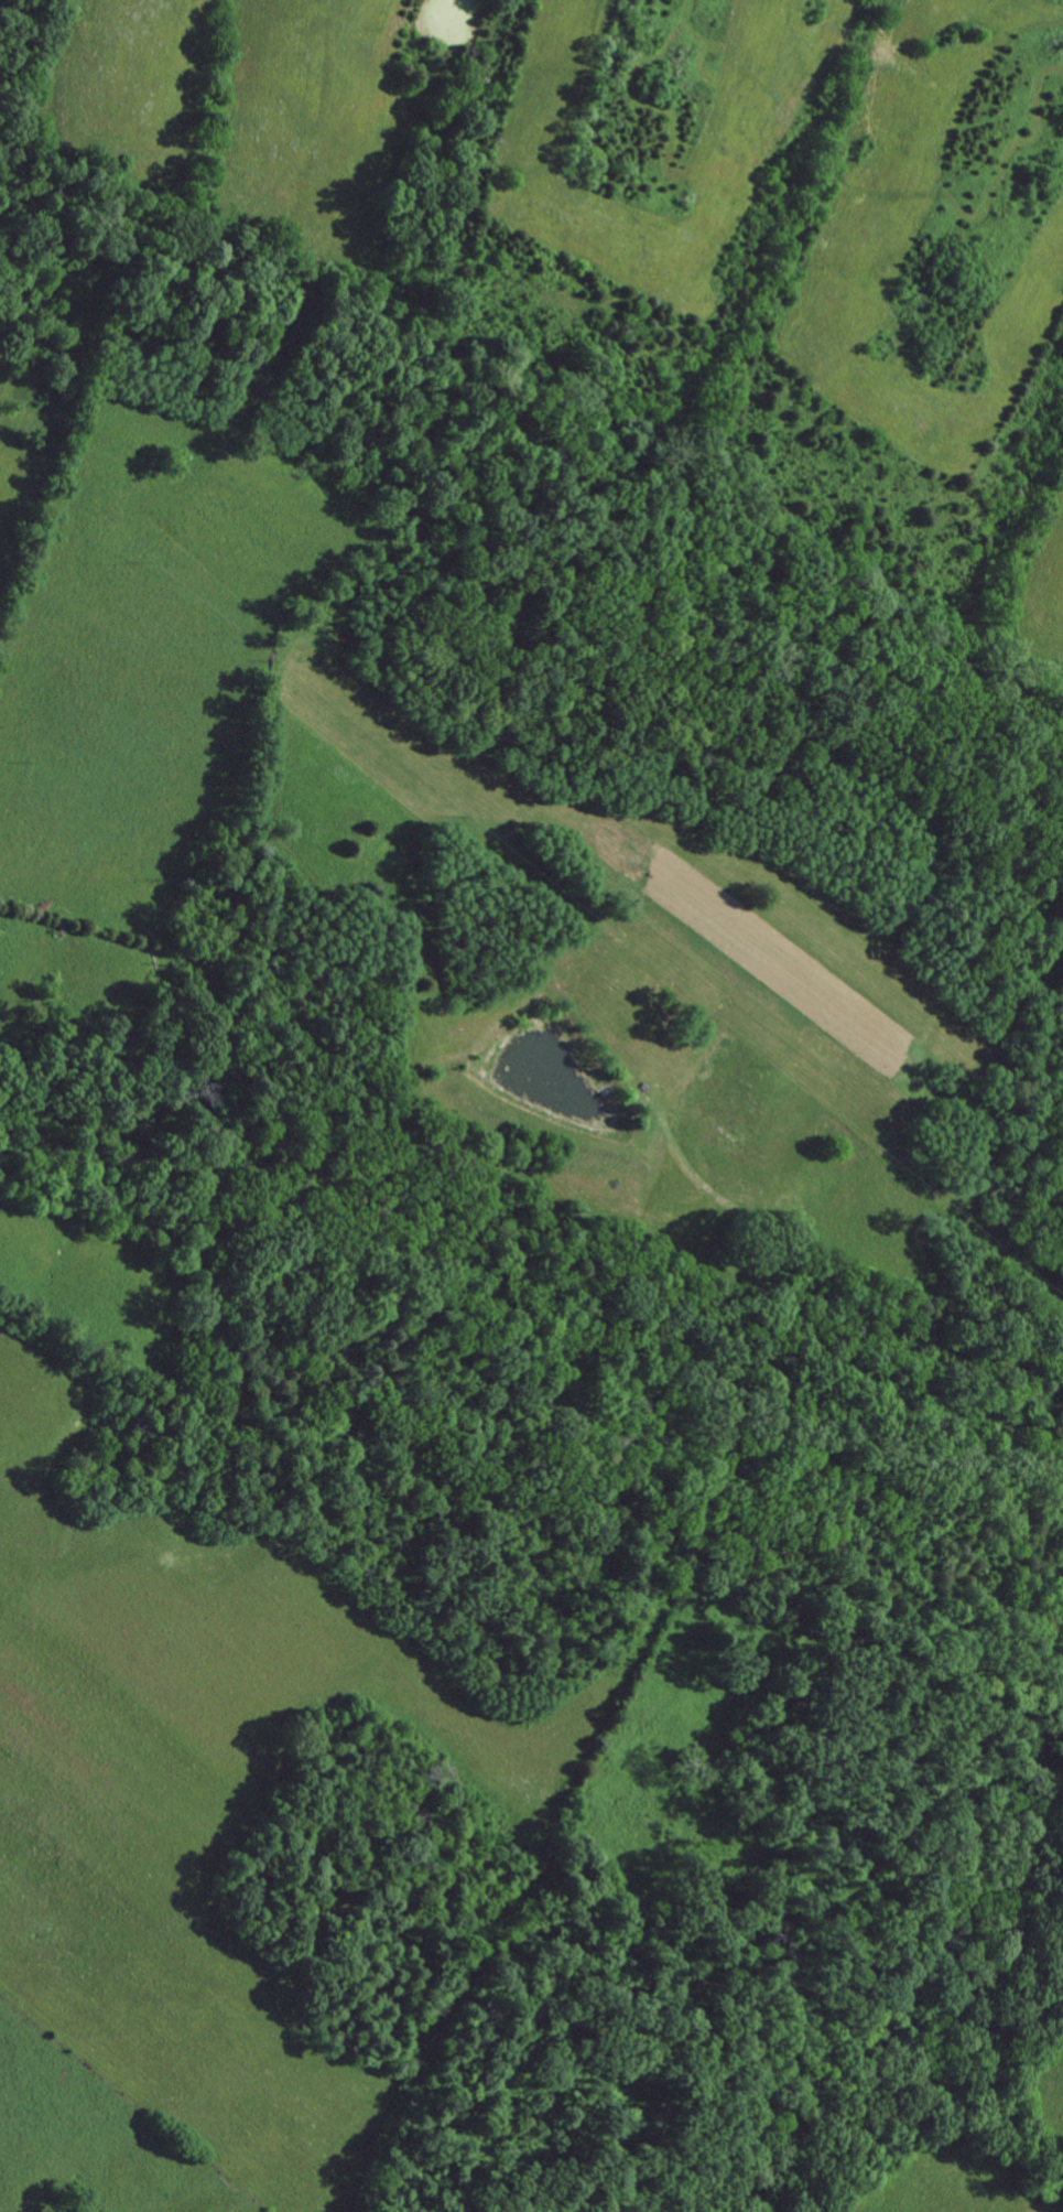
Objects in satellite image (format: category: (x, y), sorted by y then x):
road: (687, 2180)

